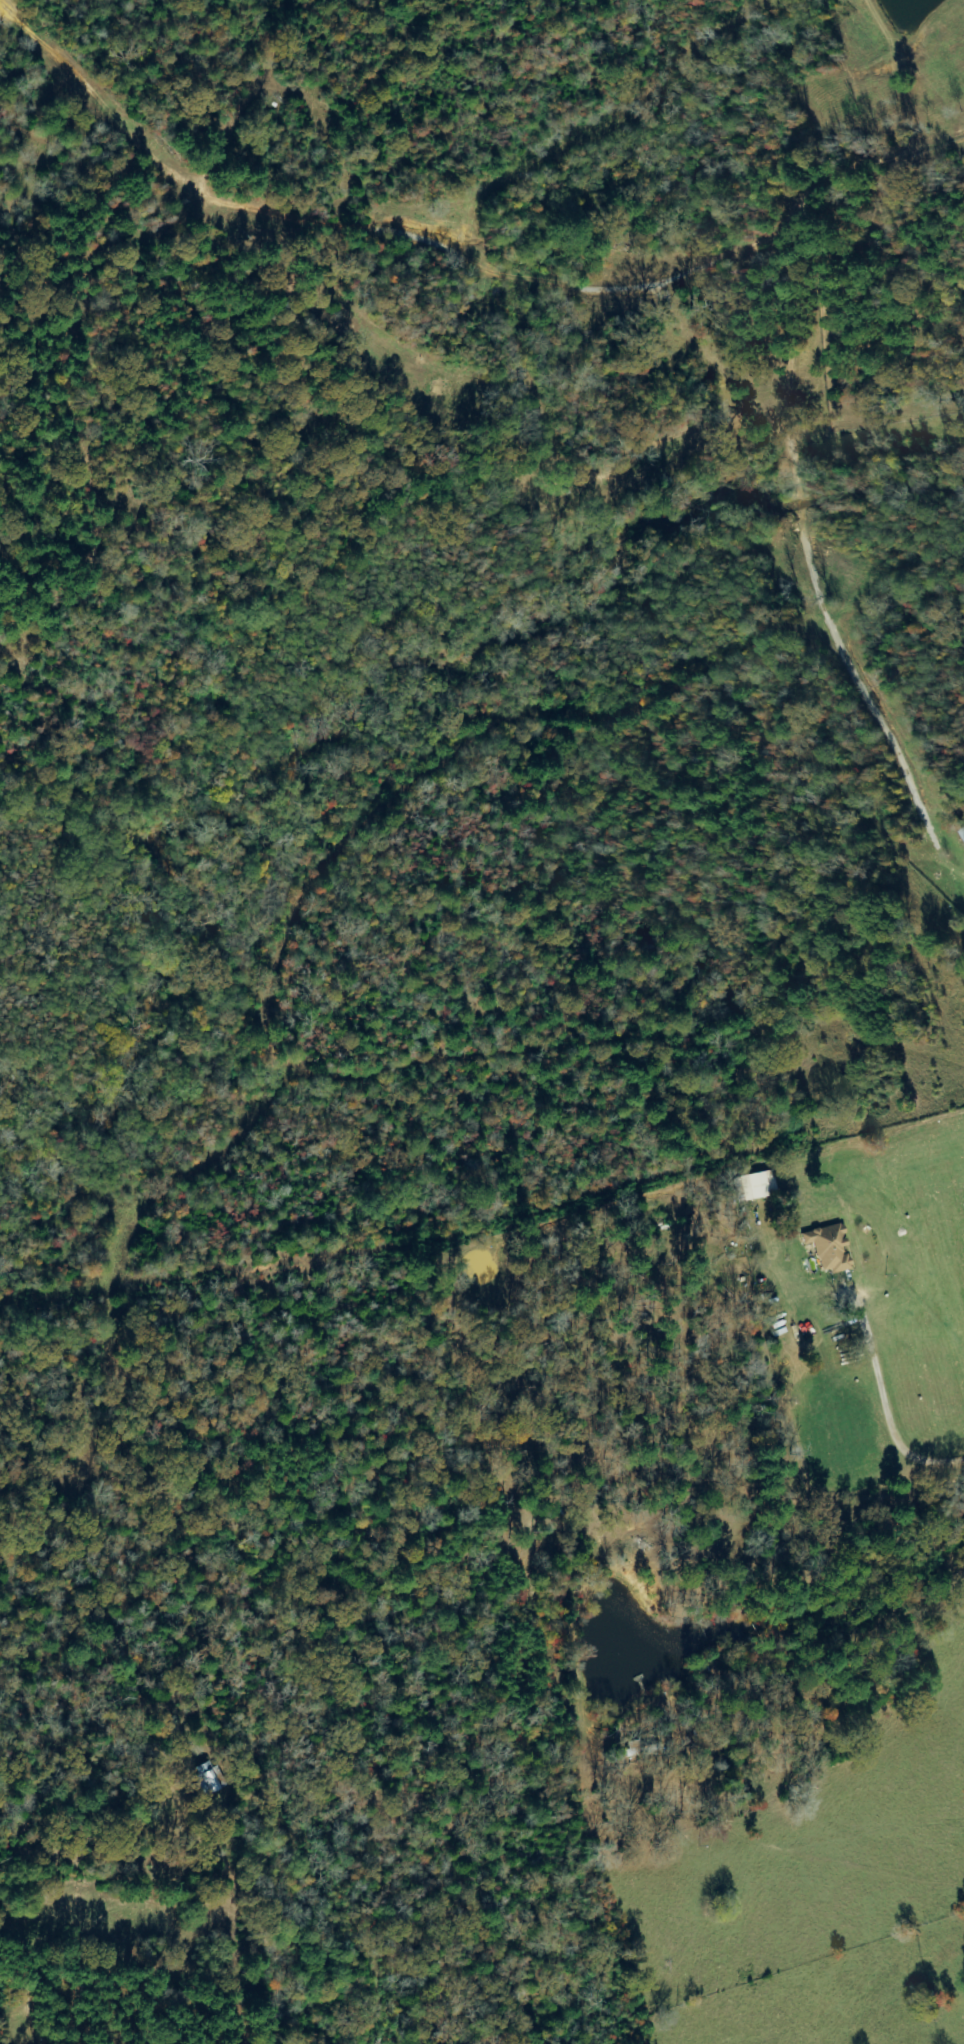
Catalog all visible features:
building: (757, 1185)
building: (829, 1247)
building: (206, 1777)

